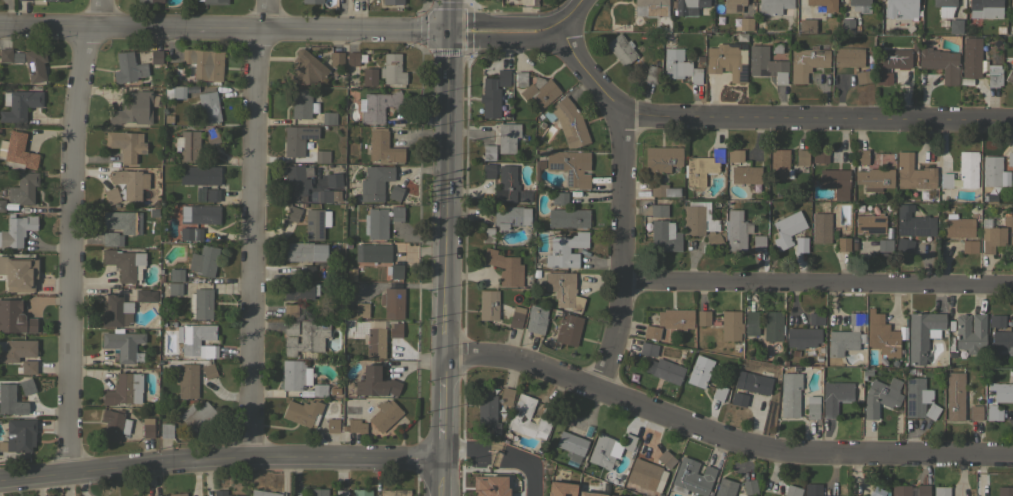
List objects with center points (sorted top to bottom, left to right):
building: (29, 0)
building: (49, 0)
building: (150, 1)
building: (311, 1)
building: (215, 2)
building: (392, 2)
building: (823, 4)
building: (688, 5)
building: (859, 5)
building: (1011, 5)
building: (732, 6)
building: (775, 7)
building: (944, 7)
building: (650, 8)
building: (899, 8)
building: (985, 8)
building: (745, 23)
building: (848, 25)
building: (807, 26)
building: (955, 26)
road: (298, 29)
building: (620, 49)
building: (5, 55)
building: (155, 57)
building: (848, 57)
building: (351, 58)
building: (895, 58)
building: (971, 58)
building: (336, 59)
building: (727, 61)
building: (806, 62)
building: (939, 63)
building: (35, 64)
building: (203, 64)
building: (766, 64)
building: (679, 66)
building: (127, 68)
building: (306, 69)
building: (392, 69)
building: (650, 73)
road: (589, 74)
building: (863, 76)
building: (1009, 76)
building: (368, 77)
building: (503, 77)
building: (993, 77)
building: (520, 78)
building: (882, 78)
building: (174, 91)
building: (538, 93)
building: (490, 102)
building: (302, 103)
building: (19, 104)
building: (379, 106)
building: (208, 107)
building: (134, 108)
road: (817, 117)
building: (328, 118)
building: (569, 123)
building: (211, 135)
building: (507, 137)
building: (298, 139)
building: (125, 144)
building: (188, 145)
building: (383, 148)
building: (488, 152)
building: (18, 153)
building: (734, 155)
building: (322, 156)
building: (819, 156)
building: (861, 156)
building: (802, 157)
building: (1010, 158)
building: (661, 160)
building: (779, 164)
rooftop solar panel: (555, 165)
building: (570, 167)
building: (702, 167)
building: (968, 169)
building: (488, 171)
building: (991, 171)
building: (913, 172)
building: (745, 174)
building: (198, 175)
rooftop solar panel: (568, 178)
building: (296, 179)
building: (333, 179)
building: (874, 179)
building: (945, 180)
building: (375, 182)
building: (835, 182)
building: (131, 183)
building: (506, 184)
building: (24, 188)
building: (663, 190)
building: (395, 192)
building: (111, 195)
building: (209, 195)
building: (328, 195)
building: (559, 198)
building: (990, 199)
building: (2, 205)
building: (658, 210)
building: (292, 213)
building: (396, 213)
building: (199, 214)
building: (510, 216)
building: (568, 217)
building: (697, 218)
building: (119, 221)
rooftop solar panel: (309, 222)
building: (913, 222)
building: (375, 223)
building: (870, 223)
building: (961, 223)
building: (314, 224)
road: (253, 226)
rooftop solar panel: (320, 227)
building: (820, 227)
building: (787, 229)
building: (16, 231)
building: (731, 232)
building: (996, 232)
building: (195, 233)
road: (70, 234)
building: (487, 234)
rooftop solar panel: (310, 235)
building: (664, 236)
building: (109, 238)
building: (758, 242)
building: (801, 242)
building: (843, 244)
building: (904, 244)
building: (969, 245)
building: (853, 246)
building: (884, 246)
road: (444, 248)
building: (565, 250)
building: (303, 251)
building: (375, 252)
road: (620, 253)
building: (204, 260)
building: (124, 263)
building: (504, 267)
building: (307, 271)
building: (396, 271)
building: (18, 273)
building: (175, 275)
road: (816, 285)
building: (174, 289)
building: (563, 289)
building: (301, 291)
building: (145, 295)
building: (392, 302)
building: (203, 303)
building: (488, 305)
building: (290, 310)
building: (361, 310)
building: (115, 311)
building: (14, 317)
building: (516, 317)
building: (702, 317)
building: (815, 318)
building: (855, 318)
building: (536, 319)
building: (675, 319)
building: (997, 321)
building: (750, 323)
building: (730, 325)
building: (772, 326)
building: (290, 327)
building: (568, 329)
building: (395, 330)
building: (651, 332)
building: (970, 333)
building: (921, 334)
building: (881, 335)
building: (306, 337)
building: (802, 337)
building: (196, 340)
building: (1002, 341)
building: (375, 342)
building: (841, 342)
building: (121, 343)
building: (16, 349)
building: (647, 349)
building: (28, 367)
building: (207, 370)
building: (664, 370)
building: (699, 371)
building: (292, 374)
building: (187, 381)
rooftop solar panel: (909, 381)
building: (377, 382)
building: (752, 383)
building: (28, 386)
building: (123, 389)
building: (320, 390)
building: (718, 392)
building: (1002, 392)
building: (790, 394)
rooftop solar panel: (909, 394)
building: (505, 395)
building: (954, 395)
building: (835, 396)
building: (880, 396)
building: (739, 399)
building: (918, 399)
building: (10, 400)
building: (812, 407)
rooftop solar panel: (911, 408)
building: (487, 410)
building: (302, 412)
building: (975, 412)
building: (384, 414)
building: (993, 414)
building: (519, 416)
building: (198, 417)
building: (563, 417)
building: (111, 424)
building: (332, 425)
building: (355, 426)
building: (147, 428)
building: (166, 430)
building: (18, 435)
road: (723, 435)
building: (571, 445)
building: (608, 449)
building: (505, 456)
road: (218, 457)
road: (498, 459)
building: (666, 459)
building: (644, 474)
building: (692, 476)
building: (489, 485)
building: (749, 486)
building: (725, 487)
building: (559, 489)
building: (812, 490)
building: (900, 490)
building: (922, 490)
building: (792, 491)
building: (875, 491)
building: (941, 491)
building: (1004, 491)
building: (317, 492)
building: (341, 492)
building: (361, 492)
building: (394, 492)
building: (222, 493)
building: (262, 493)
building: (177, 494)
building: (588, 494)
building: (155, 495)
rooftop solar panel: (564, 495)
building: (611, 495)

